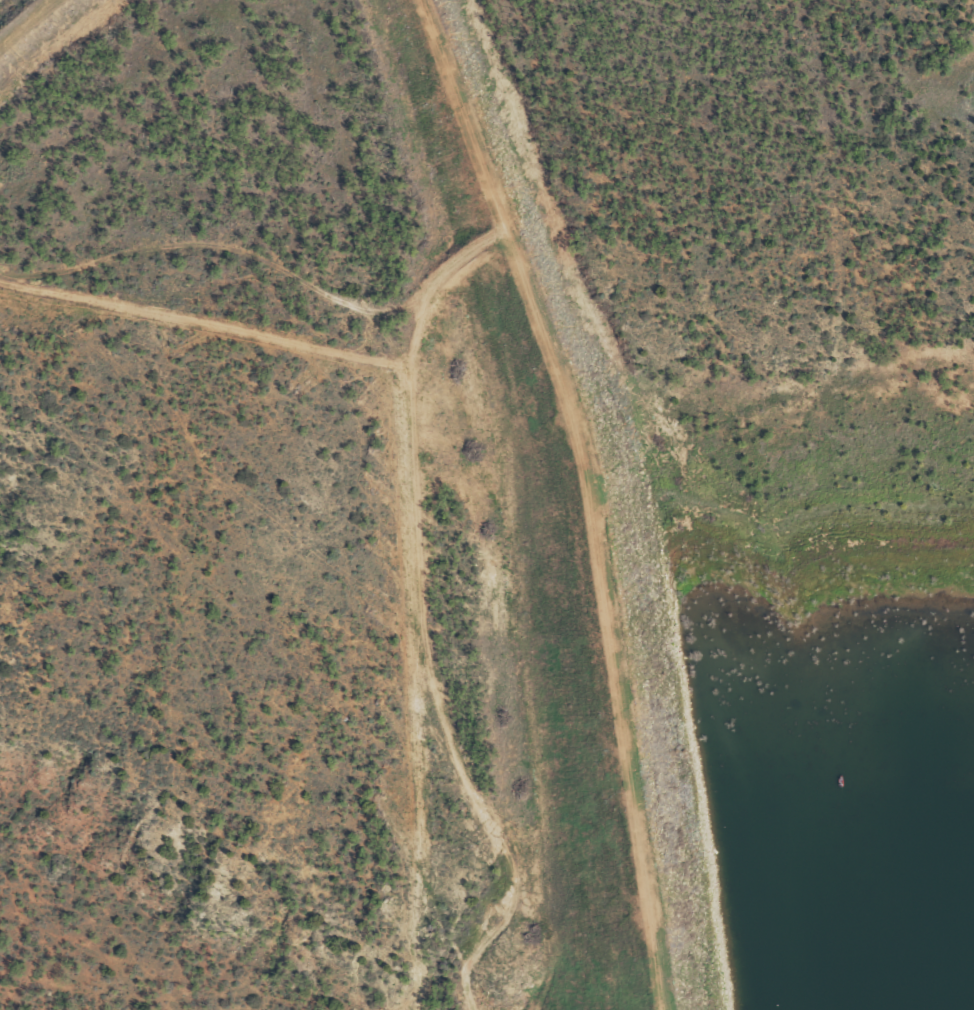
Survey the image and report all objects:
road: (464, 117)
road: (429, 252)
road: (383, 445)

